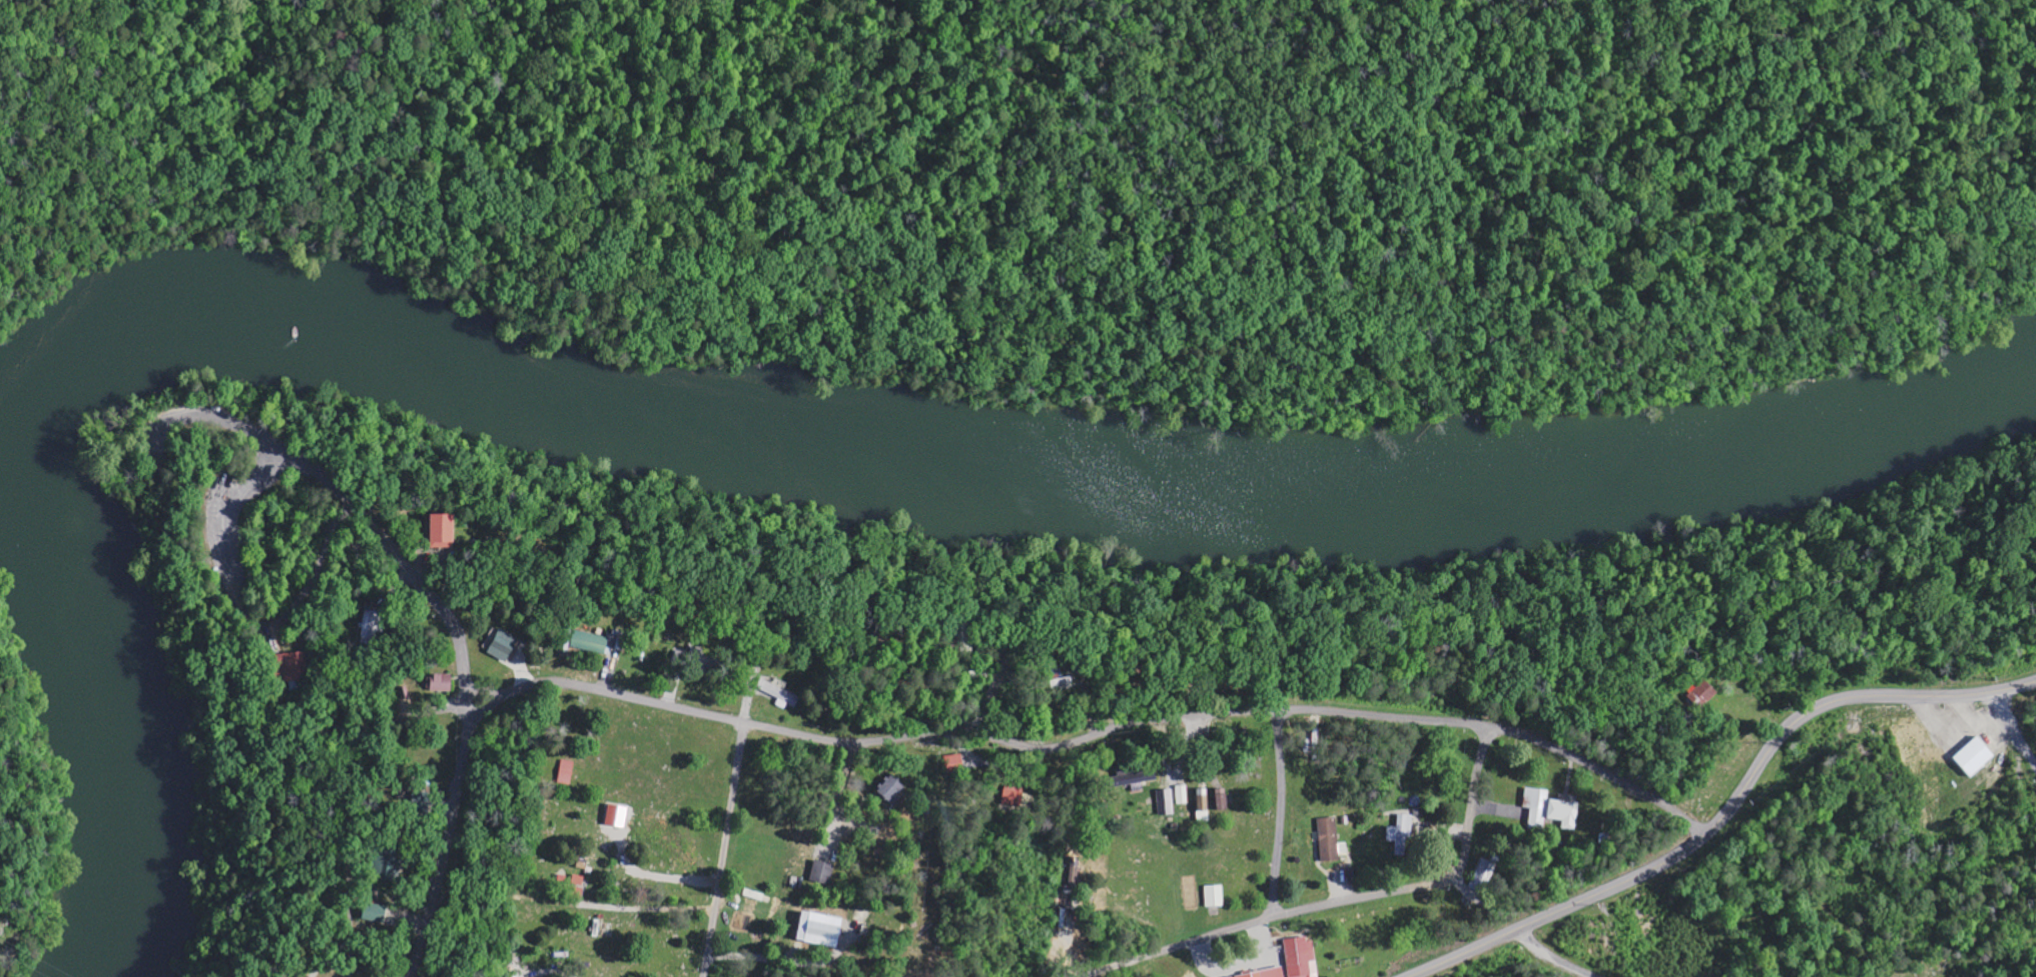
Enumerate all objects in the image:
river: (706, 437)
road: (362, 519)
building: (441, 526)
building: (441, 543)
road: (241, 609)
building: (370, 625)
building: (589, 641)
building: (503, 644)
building: (291, 665)
building: (440, 681)
building: (1065, 681)
road: (2012, 687)
building: (1702, 693)
road: (1960, 723)
road: (2011, 728)
road: (964, 731)
building: (1975, 755)
building: (565, 771)
building: (1133, 776)
building: (890, 787)
building: (1221, 797)
building: (1202, 799)
building: (1164, 801)
road: (348, 802)
building: (1548, 808)
road: (1279, 813)
building: (616, 814)
road: (1707, 828)
building: (1400, 832)
building: (1328, 838)
road: (724, 850)
building: (820, 873)
building: (1481, 874)
road: (663, 875)
building: (1214, 895)
road: (1337, 902)
road: (645, 907)
building: (816, 927)
building: (1300, 956)
road: (1550, 957)
road: (1240, 964)
building: (1264, 973)

